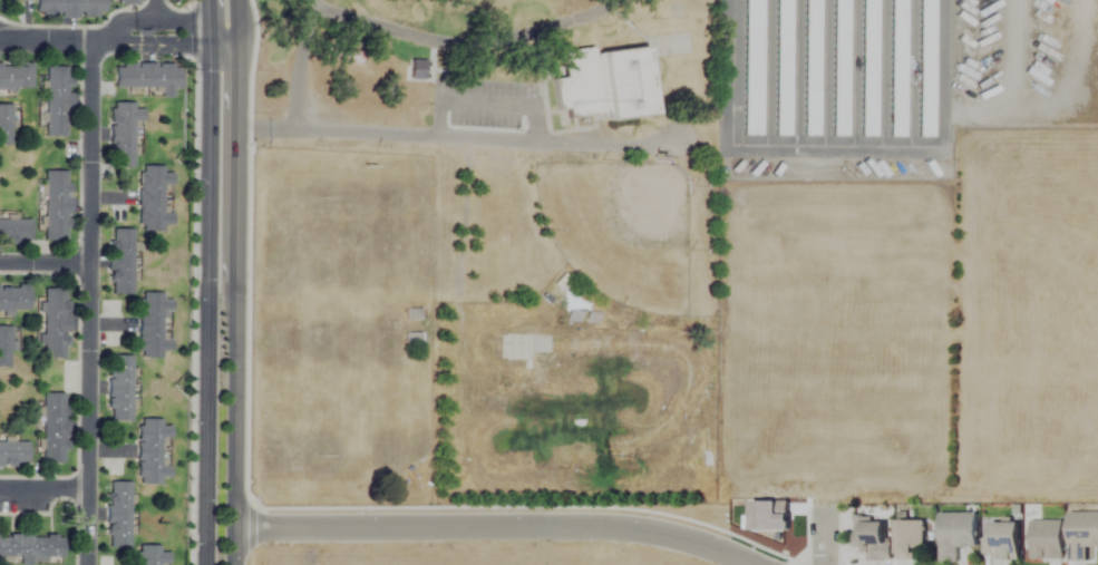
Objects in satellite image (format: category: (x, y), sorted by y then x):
building: (128, 2)
road: (305, 3)
building: (69, 8)
road: (104, 38)
road: (223, 39)
road: (463, 46)
building: (350, 56)
building: (780, 65)
building: (895, 65)
building: (751, 66)
building: (810, 66)
building: (838, 66)
building: (867, 66)
building: (925, 66)
road: (299, 69)
building: (416, 70)
park: (490, 72)
building: (14, 76)
building: (147, 77)
building: (603, 81)
building: (56, 101)
building: (4, 125)
building: (122, 134)
road: (453, 138)
building: (152, 198)
building: (56, 205)
building: (14, 230)
building: (119, 259)
road: (46, 263)
road: (206, 282)
road: (232, 282)
building: (13, 299)
road: (90, 302)
building: (54, 323)
building: (152, 324)
building: (4, 347)
building: (512, 348)
building: (118, 388)
building: (54, 428)
building: (150, 451)
building: (12, 452)
raceway: (249, 484)
road: (43, 487)
building: (117, 515)
road: (490, 529)
building: (959, 534)
building: (1082, 534)
road: (820, 537)
building: (874, 537)
building: (912, 538)
building: (1048, 539)
building: (1005, 542)
building: (31, 547)
building: (149, 555)

